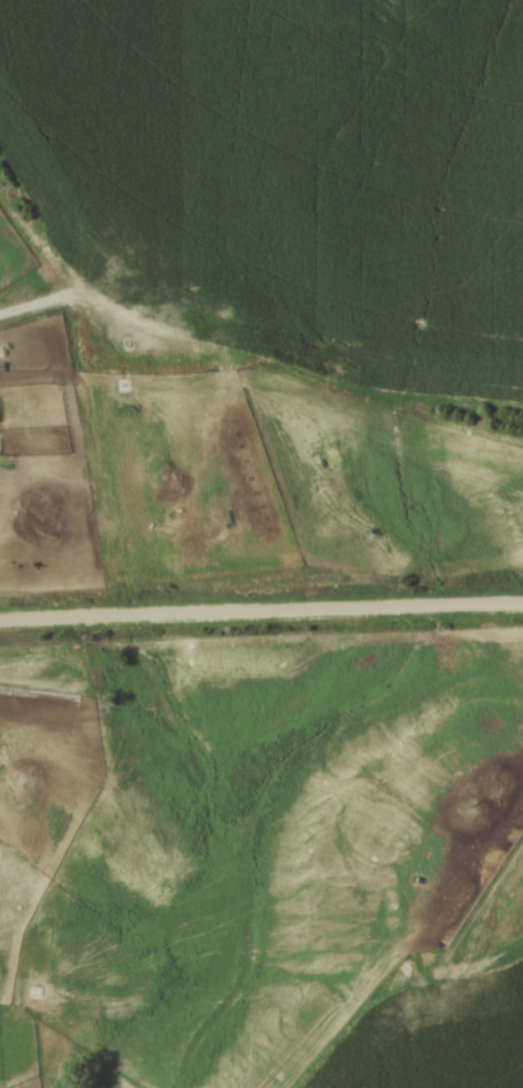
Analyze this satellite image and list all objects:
road: (260, 610)

